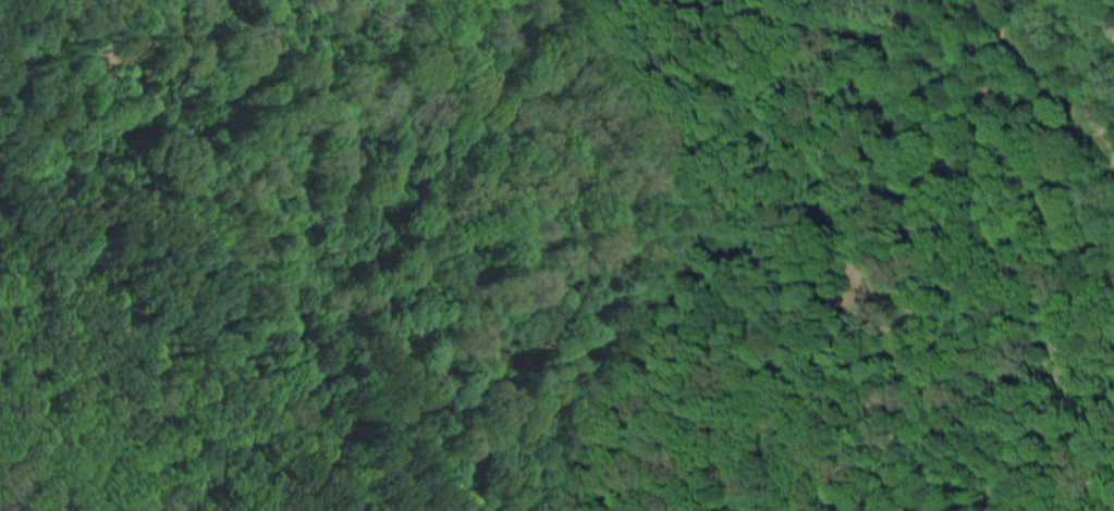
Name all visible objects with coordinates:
road: (1095, 16)
road: (657, 202)
road: (172, 203)
road: (158, 370)

